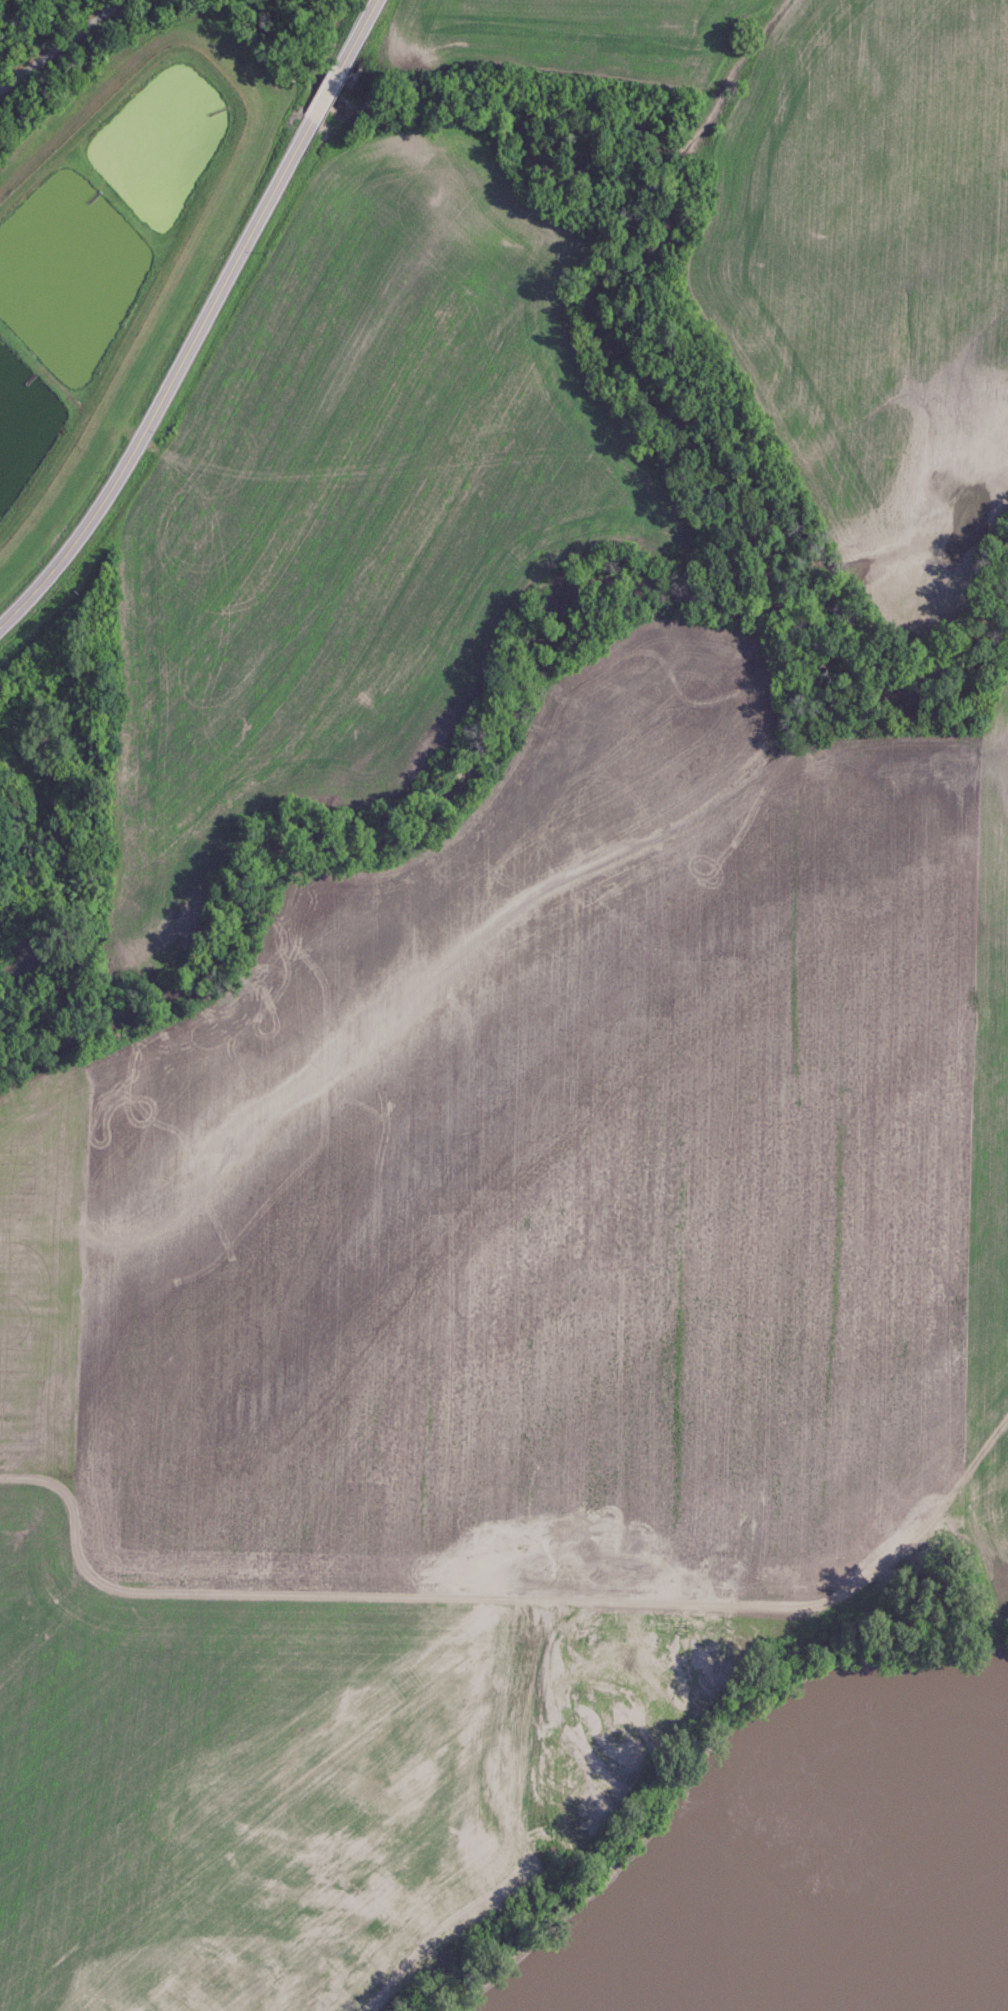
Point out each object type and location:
road: (354, 42)
road: (62, 46)
road: (182, 371)

